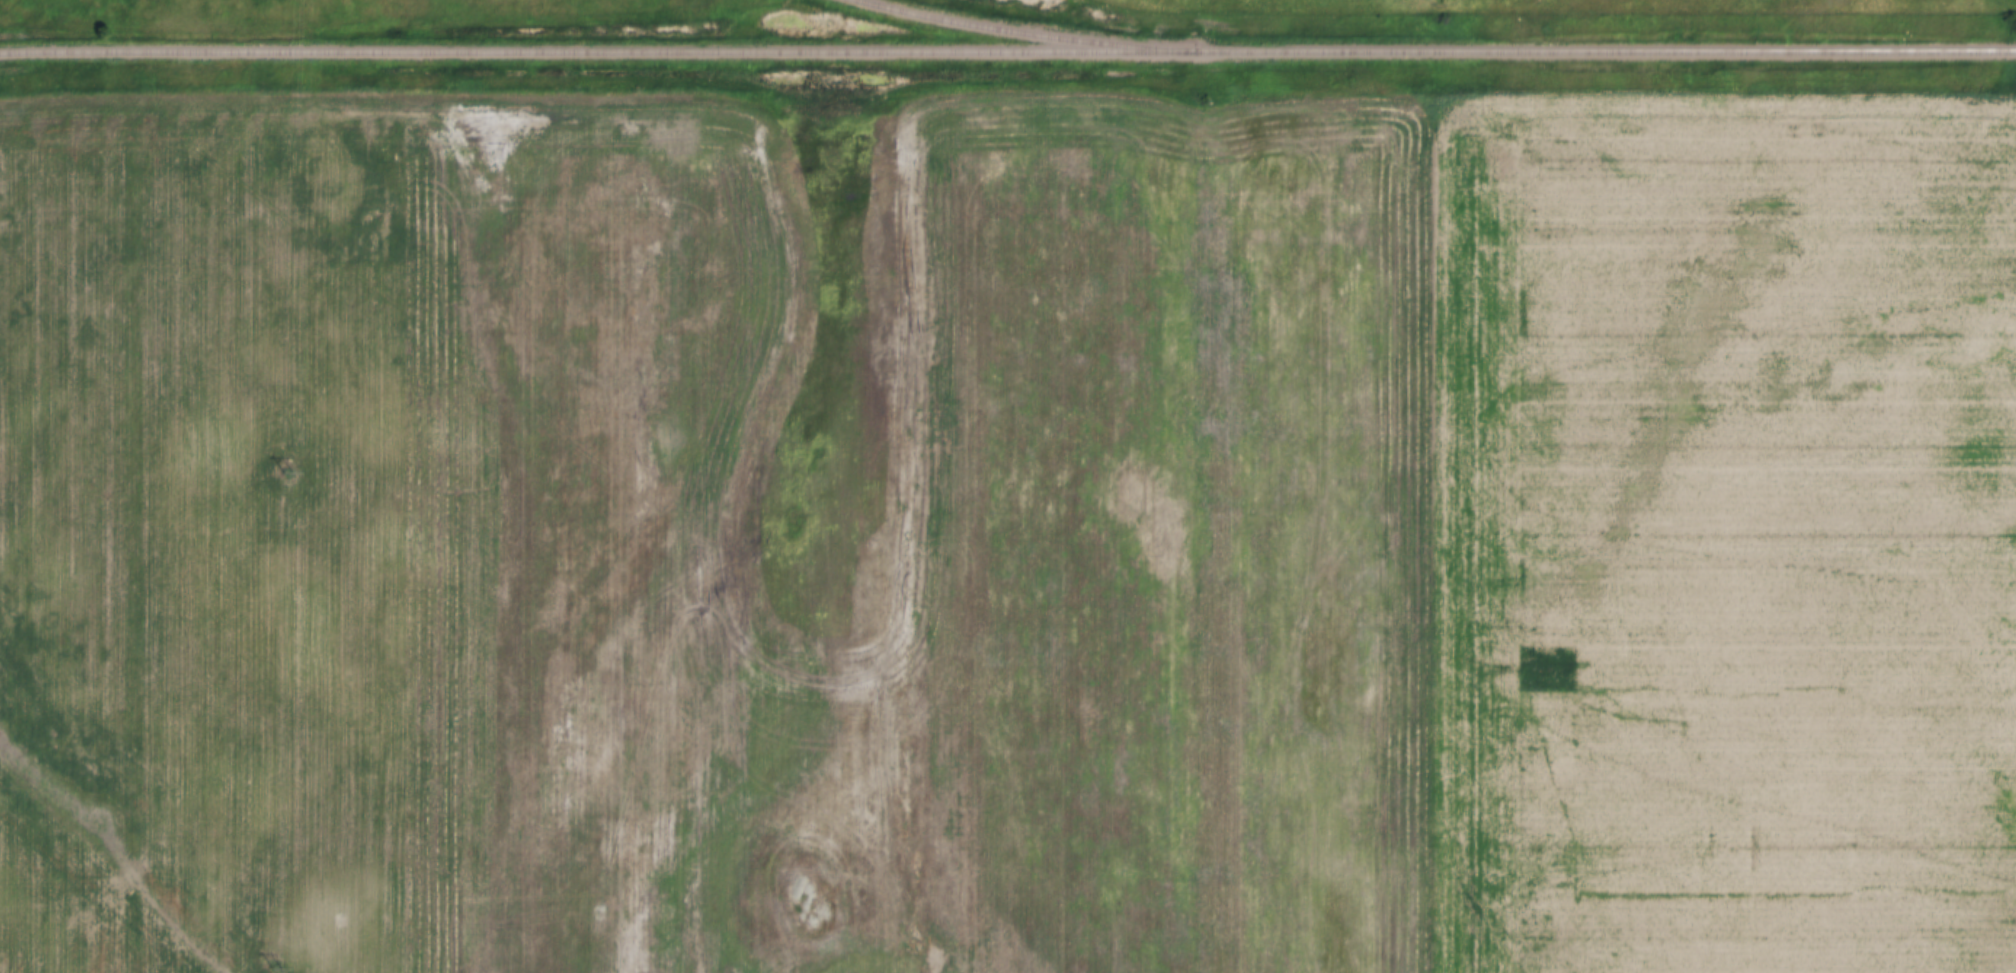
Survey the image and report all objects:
railway: (1020, 36)
railway: (1007, 54)
power tower: (283, 473)
power tower: (274, 972)

